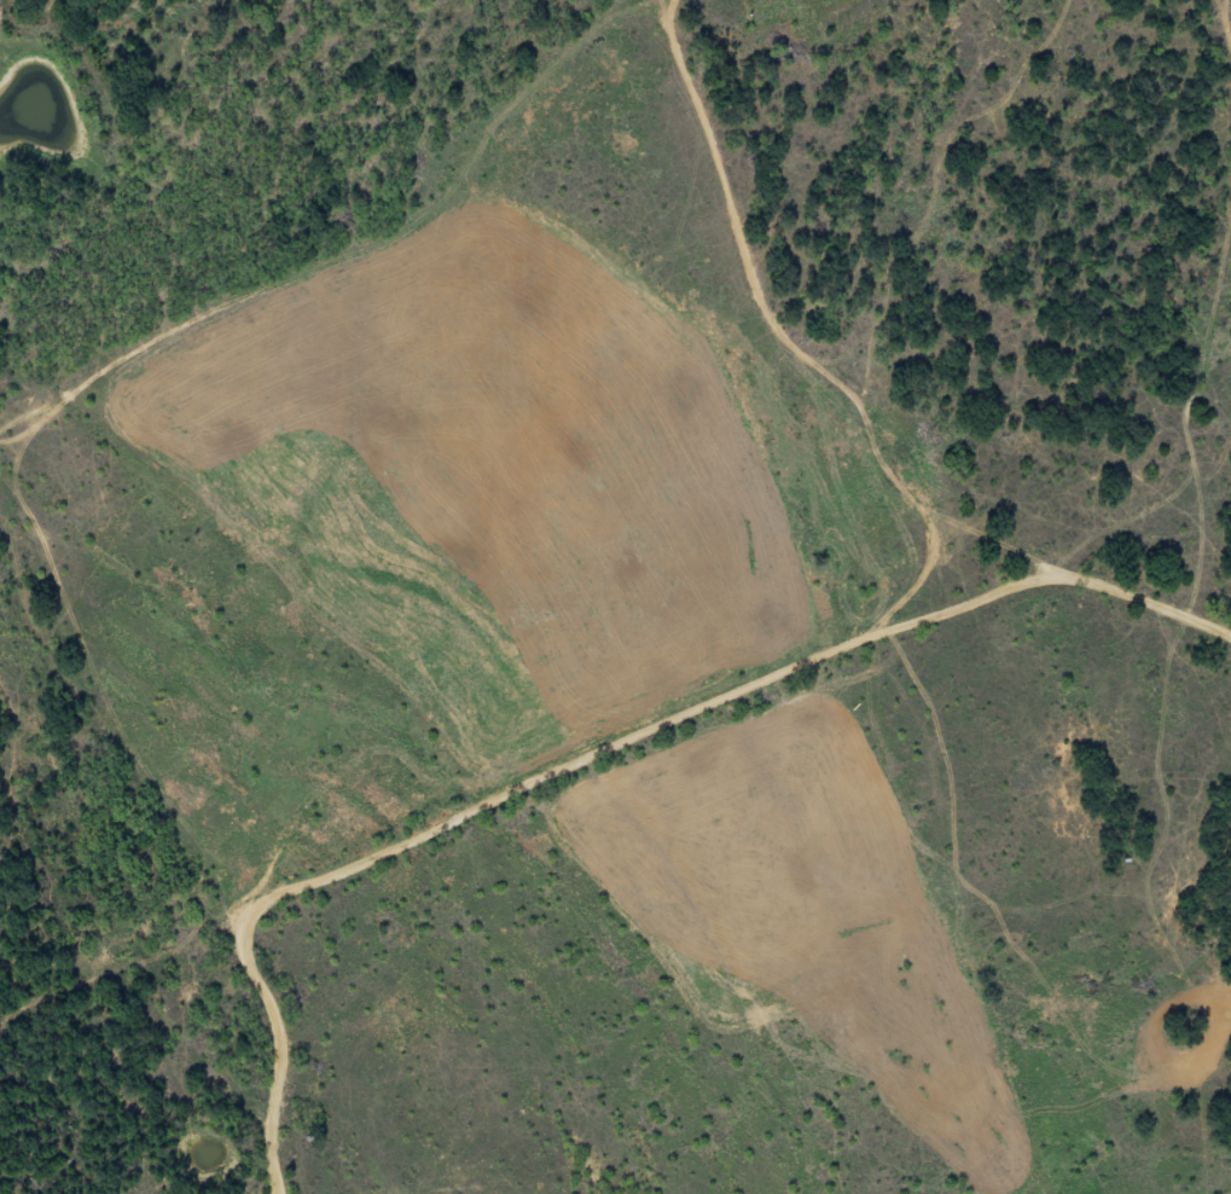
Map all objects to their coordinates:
road: (66, 504)
road: (941, 604)

